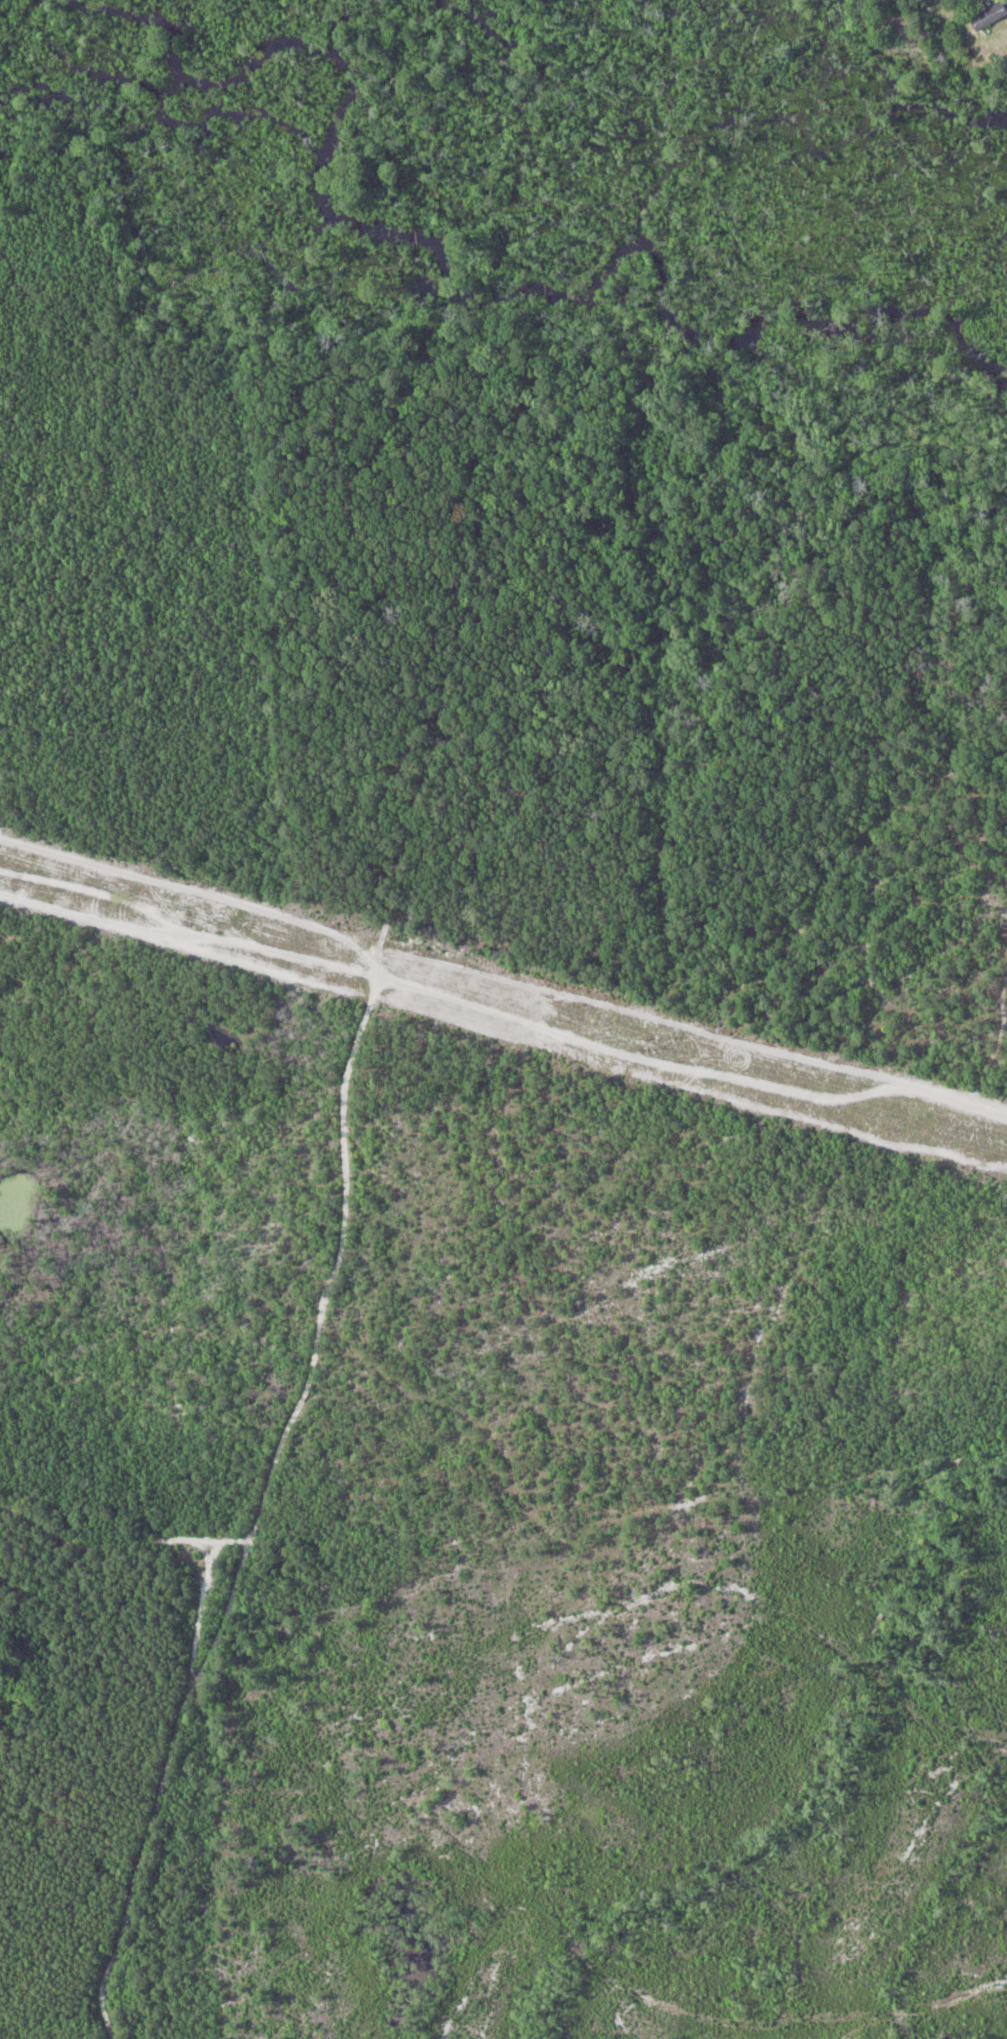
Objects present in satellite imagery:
power tower: (191, 919)
power tower: (647, 1044)
road: (105, 2017)

